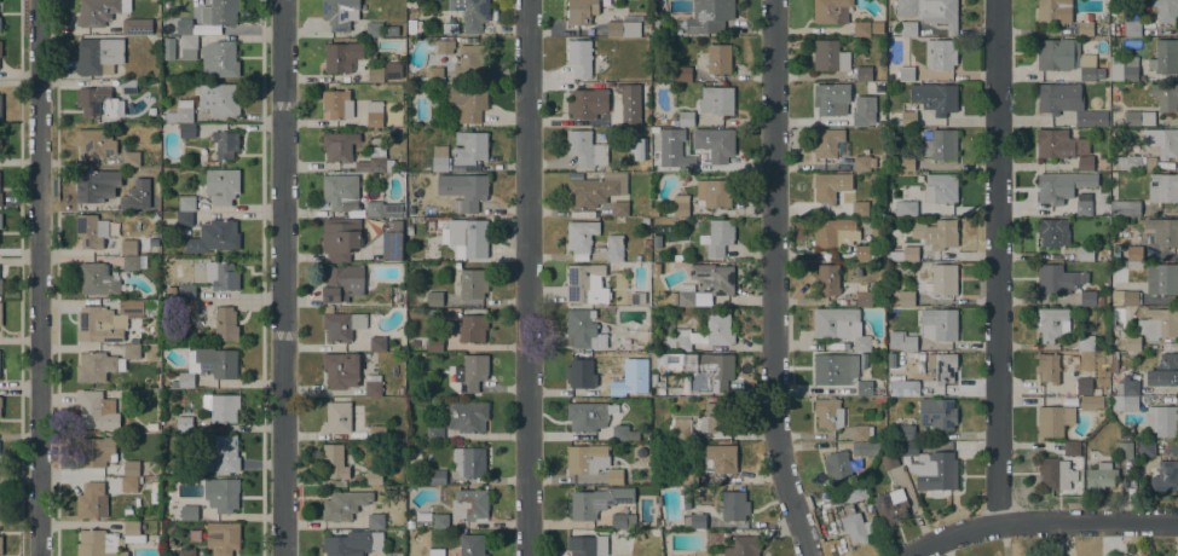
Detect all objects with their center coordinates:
building: (1166, 10)
building: (99, 11)
building: (581, 11)
building: (831, 11)
building: (1052, 11)
building: (220, 12)
building: (930, 12)
building: (341, 13)
building: (474, 15)
building: (706, 17)
building: (137, 25)
building: (411, 25)
building: (876, 27)
building: (185, 28)
building: (449, 28)
building: (1085, 28)
building: (1132, 28)
building: (374, 29)
building: (622, 29)
building: (861, 29)
building: (908, 29)
building: (389, 30)
building: (1067, 30)
building: (187, 47)
building: (444, 47)
building: (0, 48)
building: (168, 48)
building: (940, 54)
building: (1057, 54)
building: (98, 56)
building: (830, 56)
building: (342, 57)
building: (579, 57)
building: (1165, 57)
building: (718, 58)
building: (219, 59)
building: (470, 60)
building: (1090, 68)
building: (1124, 69)
building: (392, 70)
building: (683, 73)
building: (864, 73)
building: (375, 74)
building: (435, 74)
building: (906, 74)
building: (1059, 75)
building: (128, 87)
building: (935, 97)
building: (1165, 97)
building: (218, 98)
building: (831, 98)
building: (716, 100)
building: (98, 102)
building: (468, 102)
building: (629, 102)
building: (334, 103)
building: (587, 103)
building: (1067, 106)
building: (0, 108)
building: (179, 112)
building: (374, 114)
building: (1139, 117)
building: (686, 118)
building: (861, 118)
building: (906, 118)
building: (186, 131)
building: (826, 141)
building: (94, 143)
building: (1167, 143)
building: (226, 144)
building: (1059, 144)
building: (940, 145)
building: (339, 146)
building: (0, 147)
building: (721, 147)
building: (585, 149)
building: (637, 149)
building: (469, 150)
building: (132, 158)
building: (439, 158)
building: (375, 161)
building: (864, 162)
building: (1085, 162)
building: (1134, 162)
building: (906, 163)
building: (687, 167)
building: (610, 168)
building: (221, 185)
building: (1061, 186)
building: (92, 187)
building: (593, 187)
building: (825, 187)
building: (941, 187)
building: (1162, 187)
building: (339, 191)
building: (715, 192)
building: (0, 193)
building: (470, 195)
building: (127, 203)
building: (186, 203)
building: (1082, 204)
building: (678, 207)
building: (859, 208)
building: (905, 208)
building: (1124, 208)
building: (382, 209)
building: (619, 209)
building: (654, 212)
building: (184, 219)
building: (417, 219)
building: (1116, 219)
building: (0, 220)
building: (653, 220)
building: (645, 221)
building: (409, 230)
building: (91, 231)
building: (833, 232)
building: (1052, 232)
building: (939, 233)
building: (1162, 233)
building: (581, 236)
building: (214, 237)
building: (464, 237)
building: (717, 237)
building: (340, 238)
building: (392, 241)
building: (646, 243)
building: (128, 247)
building: (613, 248)
building: (1085, 253)
building: (1128, 253)
building: (861, 254)
building: (908, 254)
road: (995, 262)
building: (131, 263)
building: (653, 265)
building: (1133, 265)
building: (223, 276)
road: (39, 278)
road: (281, 278)
road: (526, 278)
building: (96, 279)
building: (826, 279)
building: (943, 279)
building: (1057, 279)
building: (1162, 279)
road: (773, 280)
building: (341, 283)
building: (469, 283)
building: (585, 284)
building: (0, 285)
building: (704, 285)
building: (186, 291)
building: (1124, 297)
building: (434, 299)
building: (637, 299)
building: (865, 299)
building: (906, 299)
building: (1090, 299)
building: (189, 307)
building: (0, 313)
building: (105, 322)
building: (835, 322)
building: (452, 323)
building: (1050, 323)
building: (1159, 323)
building: (225, 324)
building: (937, 324)
building: (341, 325)
building: (472, 328)
building: (583, 329)
building: (642, 334)
building: (700, 335)
building: (619, 338)
building: (902, 341)
building: (1086, 342)
building: (1132, 342)
building: (376, 343)
building: (434, 343)
building: (861, 343)
building: (653, 346)
building: (1170, 346)
building: (633, 360)
building: (1113, 361)
building: (102, 364)
building: (208, 364)
building: (942, 366)
building: (1047, 367)
building: (833, 369)
building: (341, 370)
building: (716, 370)
building: (1163, 371)
building: (470, 372)
building: (643, 376)
building: (584, 378)
building: (618, 384)
building: (373, 386)
building: (1084, 386)
building: (876, 387)
building: (1126, 387)
building: (864, 388)
building: (903, 388)
building: (400, 390)
building: (1096, 390)
building: (879, 400)
building: (1069, 400)
building: (1092, 401)
building: (0, 402)
building: (1126, 402)
building: (221, 406)
building: (96, 411)
building: (828, 413)
building: (937, 413)
building: (467, 416)
building: (587, 416)
building: (337, 417)
building: (715, 418)
building: (1053, 421)
building: (1162, 421)
building: (184, 424)
building: (151, 427)
building: (681, 428)
building: (377, 433)
building: (434, 433)
building: (623, 433)
building: (861, 433)
building: (906, 433)
building: (942, 445)
building: (865, 448)
building: (1072, 448)
building: (1124, 448)
building: (1145, 448)
building: (96, 451)
building: (640, 451)
building: (225, 453)
building: (587, 458)
building: (720, 458)
building: (334, 461)
building: (469, 461)
building: (889, 461)
building: (0, 462)
building: (837, 467)
building: (931, 468)
building: (131, 469)
building: (1055, 473)
building: (1167, 475)
building: (437, 476)
building: (614, 476)
building: (688, 476)
building: (1099, 476)
building: (374, 477)
building: (675, 477)
building: (128, 483)
building: (849, 493)
building: (224, 496)
building: (686, 498)
building: (91, 500)
building: (596, 502)
building: (343, 504)
building: (469, 504)
building: (733, 505)
building: (890, 506)
building: (0, 510)
building: (189, 512)
building: (422, 520)
building: (439, 520)
building: (694, 520)
building: (375, 521)
building: (623, 521)
road: (1039, 522)
building: (409, 525)
building: (854, 525)
building: (133, 532)
building: (223, 538)
building: (352, 543)
building: (98, 544)
building: (0, 545)
building: (472, 545)
building: (588, 545)
building: (744, 546)
building: (186, 552)
building: (435, 552)

